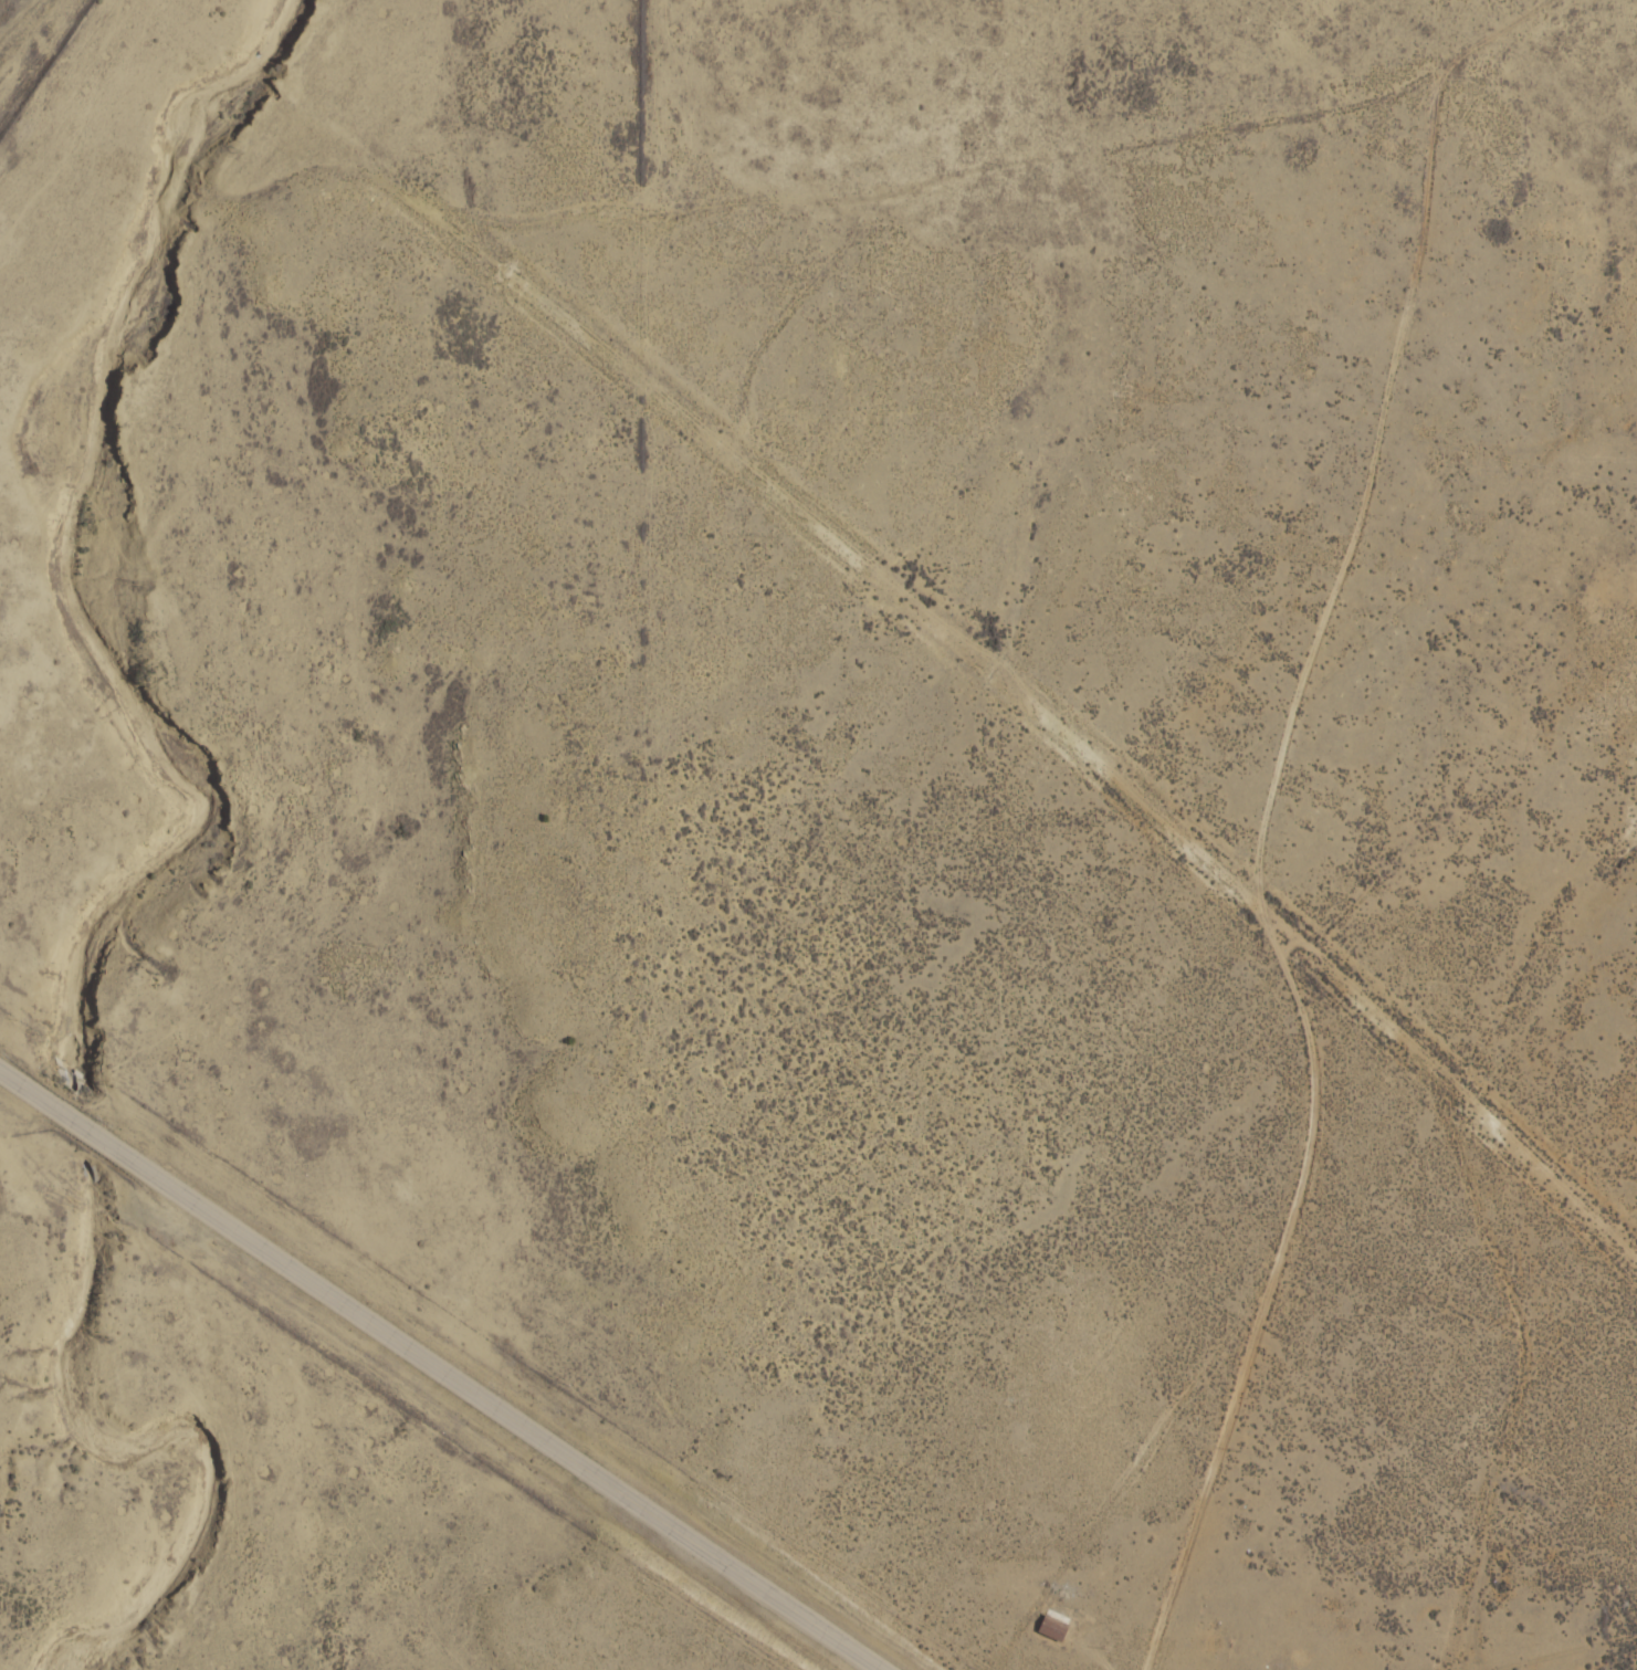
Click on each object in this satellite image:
road: (238, 46)
road: (882, 218)
road: (1132, 858)
road: (422, 1377)

